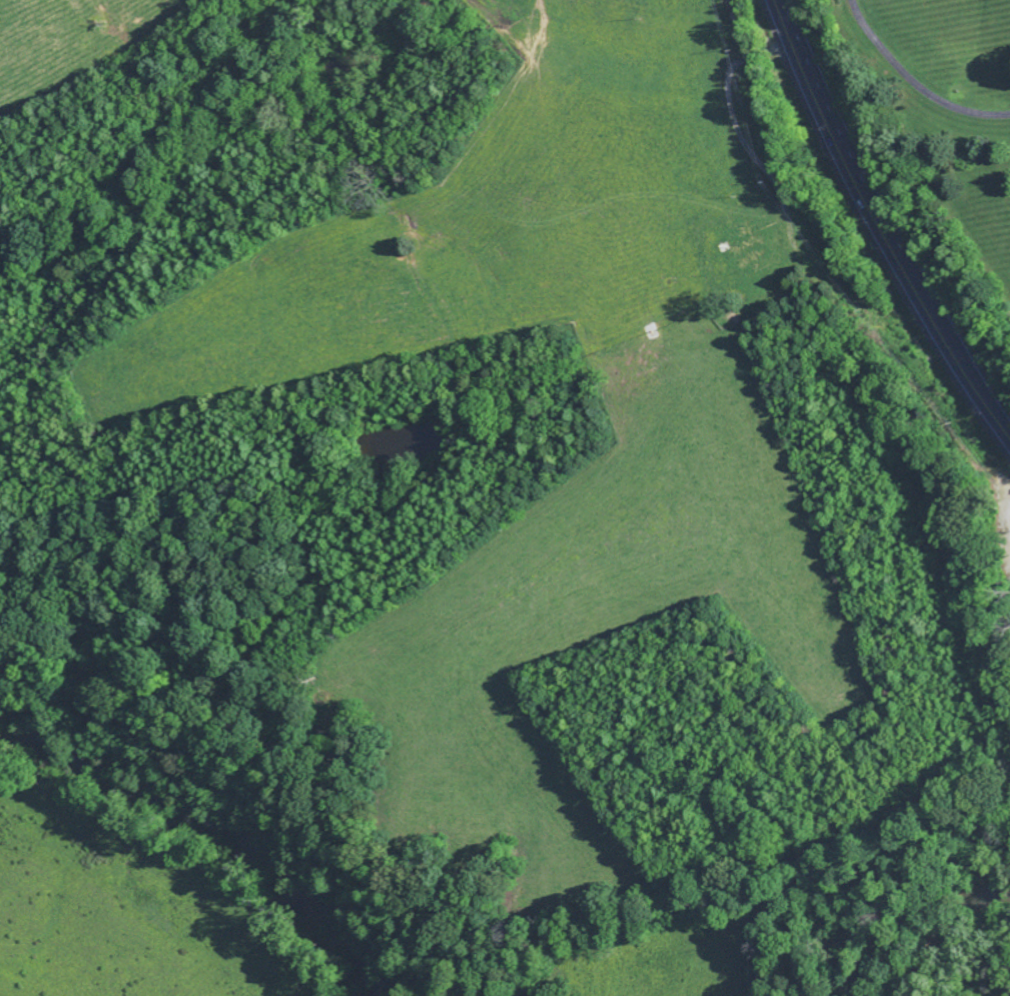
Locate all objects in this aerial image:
road: (880, 227)

